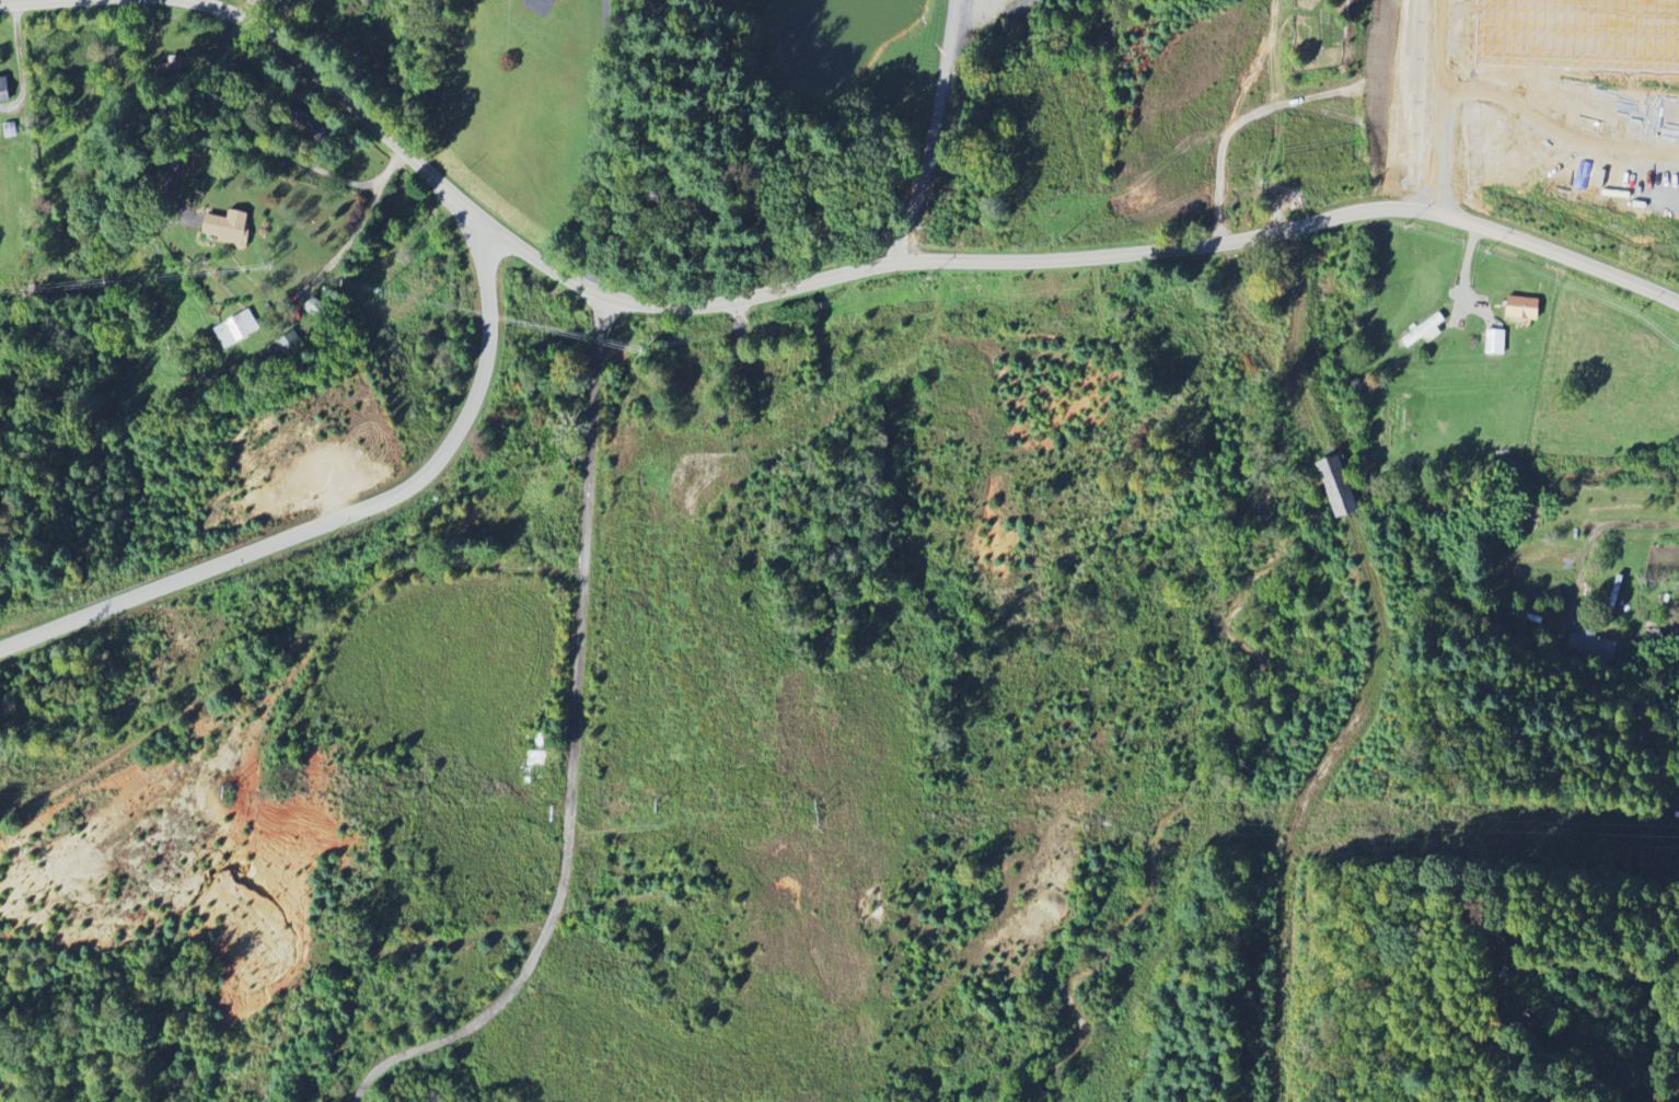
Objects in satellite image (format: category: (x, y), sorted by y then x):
road: (20, 1)
park: (1317, 34)
building: (177, 67)
road: (1356, 79)
building: (4, 90)
road: (934, 132)
road: (262, 150)
building: (229, 228)
road: (760, 228)
road: (344, 244)
road: (894, 263)
building: (1522, 310)
building: (235, 329)
building: (1424, 330)
building: (1495, 341)
building: (285, 347)
building: (1339, 492)
road: (340, 518)
road: (1591, 529)
building: (1593, 646)
road: (1375, 669)
road: (1676, 1101)

